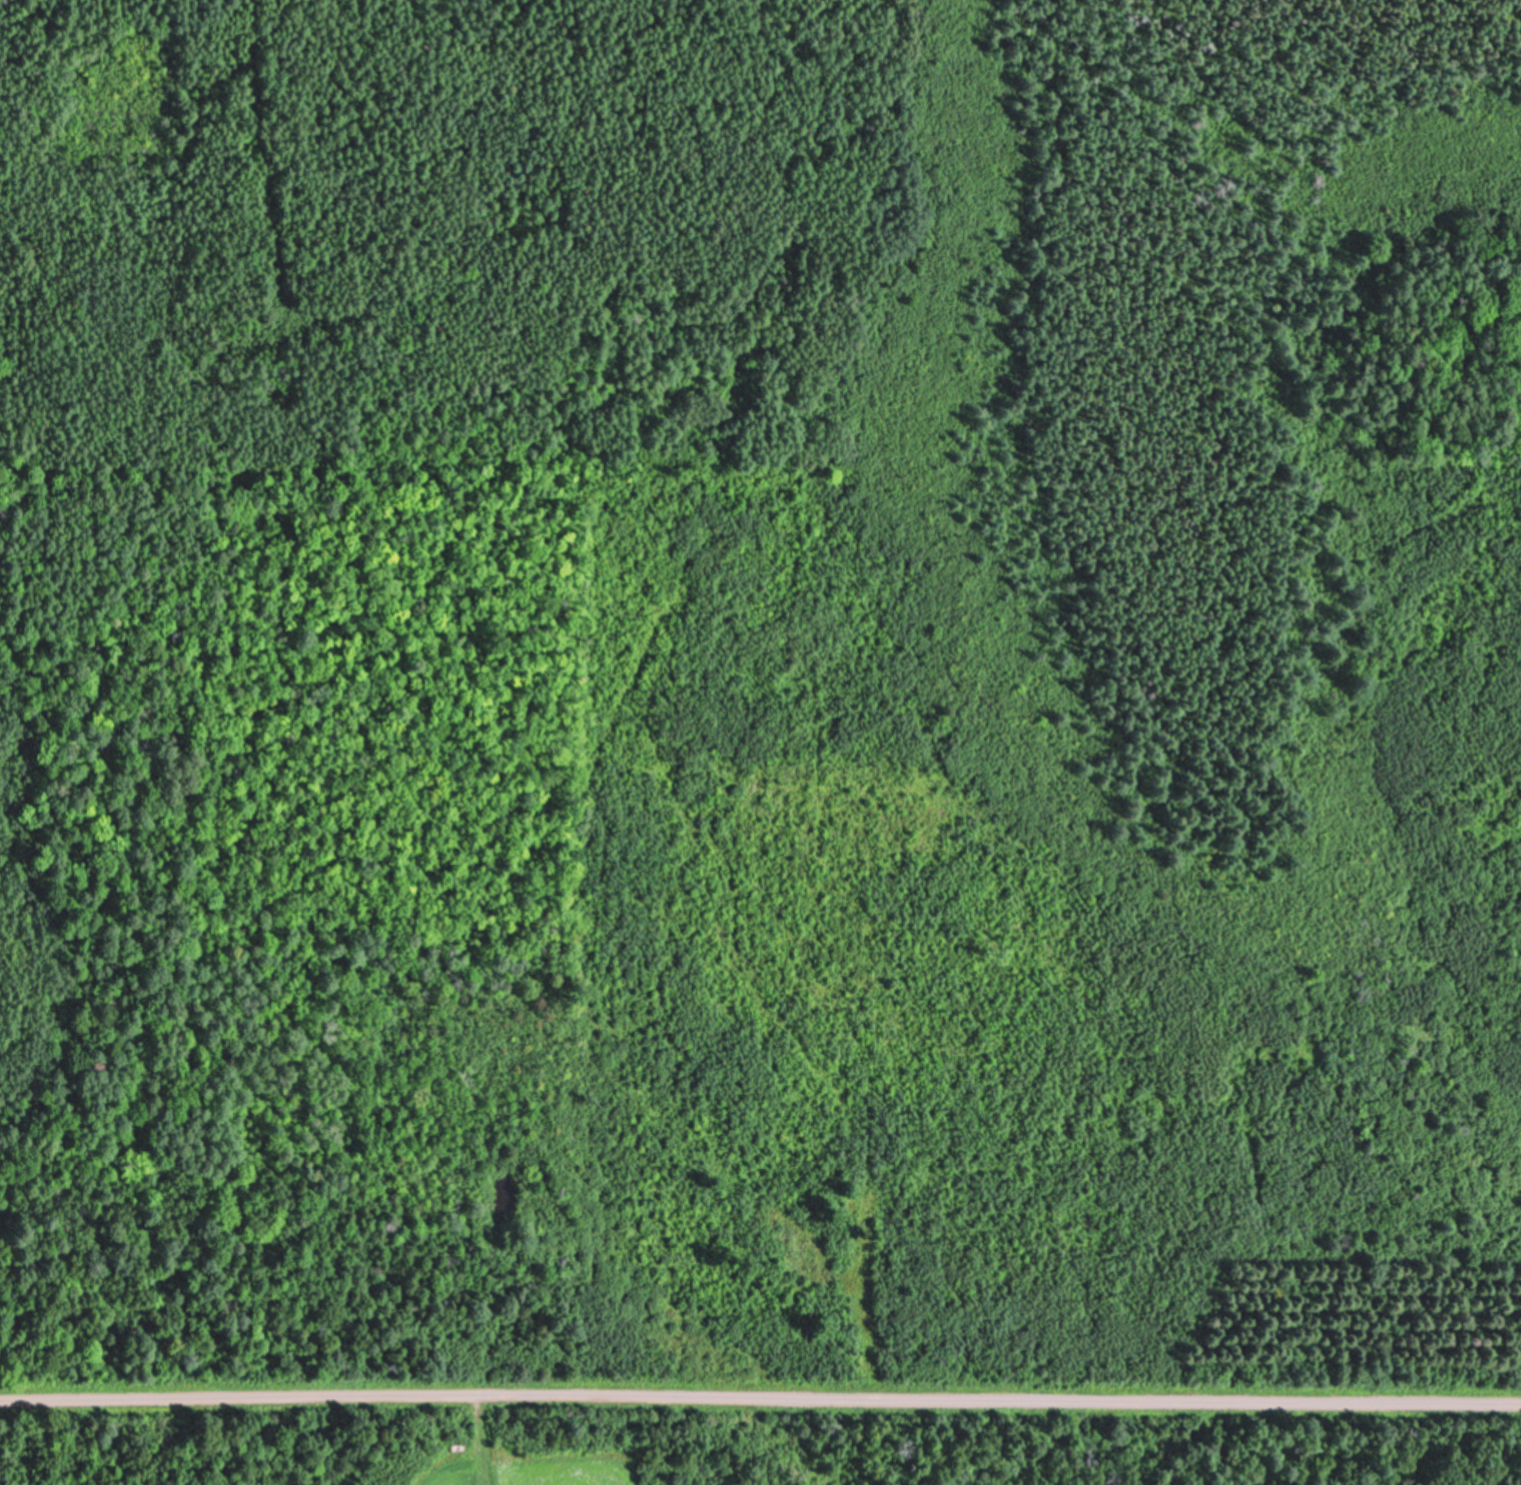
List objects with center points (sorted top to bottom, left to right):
road: (760, 1388)

